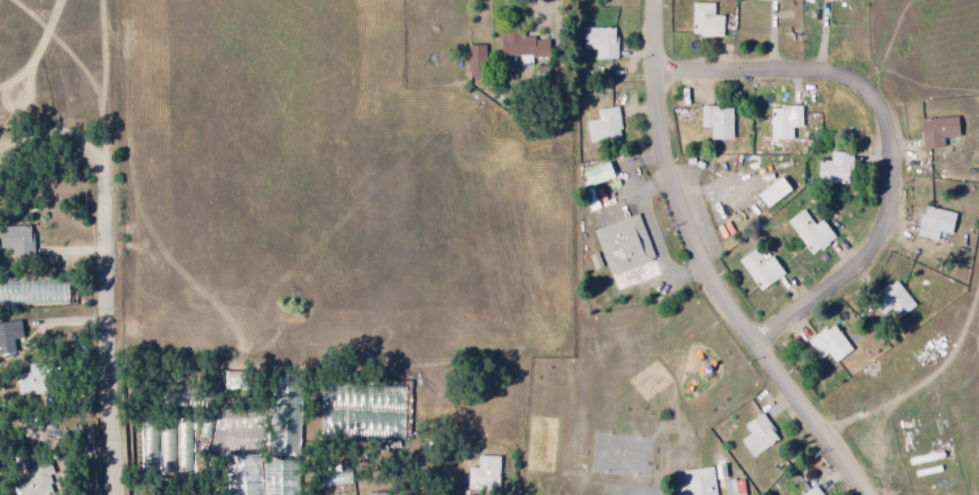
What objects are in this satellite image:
building: (707, 20)
building: (602, 42)
building: (524, 46)
building: (477, 60)
building: (785, 120)
building: (717, 121)
building: (605, 125)
road: (895, 130)
building: (938, 131)
building: (835, 169)
building: (600, 174)
building: (777, 192)
building: (936, 223)
building: (812, 233)
road: (111, 237)
building: (17, 240)
building: (625, 248)
road: (719, 265)
building: (761, 270)
building: (897, 299)
building: (10, 336)
building: (831, 344)
building: (33, 379)
building: (759, 435)
building: (721, 472)
building: (485, 473)
building: (700, 481)
building: (35, 482)
building: (735, 487)
building: (813, 492)
building: (378, 494)

